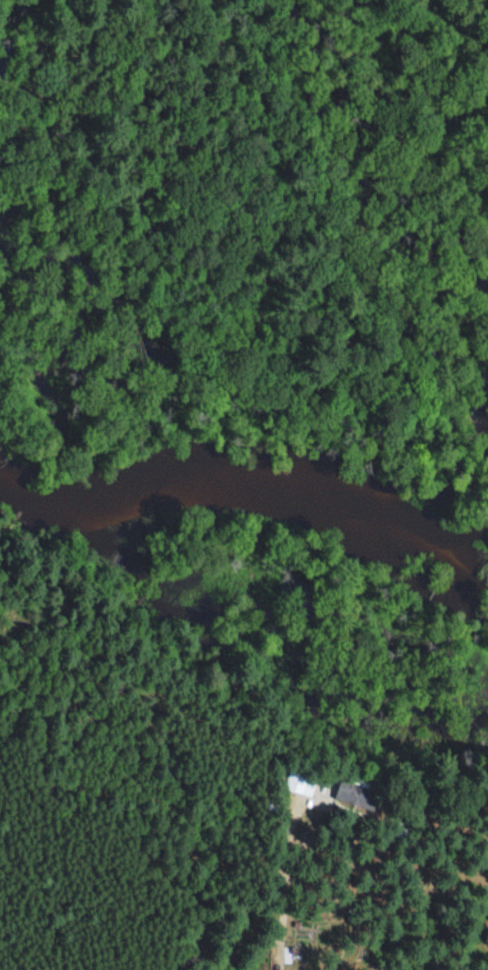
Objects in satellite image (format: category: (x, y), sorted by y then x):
river: (247, 490)
building: (296, 779)
building: (349, 789)
road: (290, 872)
road: (435, 899)

